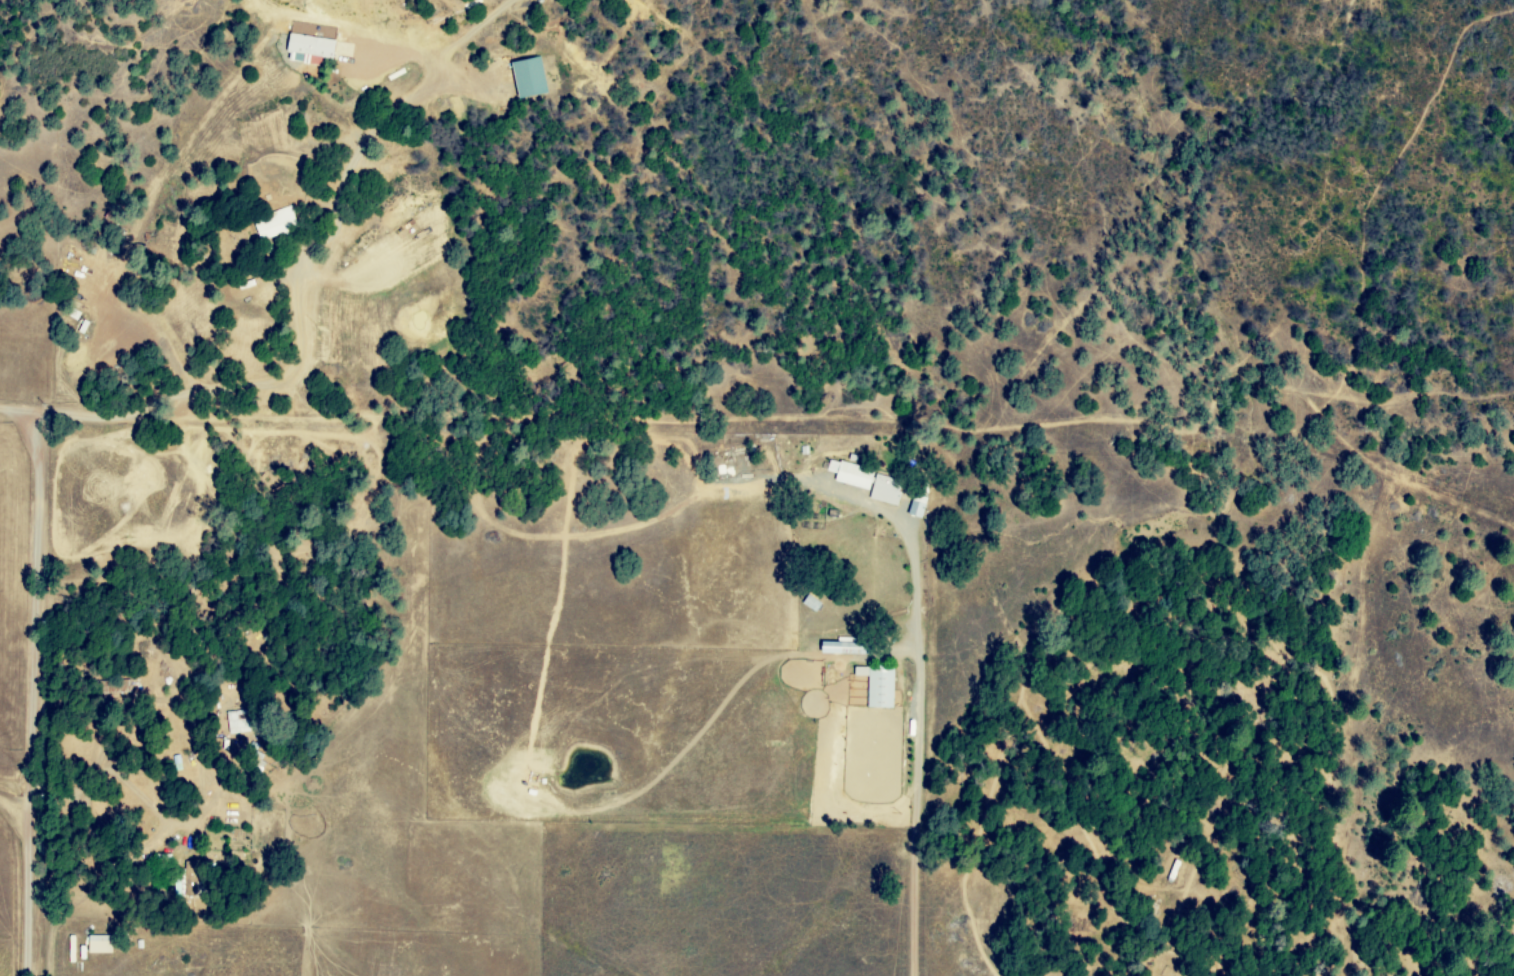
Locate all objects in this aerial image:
building: (316, 50)
building: (529, 78)
building: (274, 223)
road: (293, 242)
road: (914, 341)
building: (866, 482)
building: (917, 508)
road: (571, 546)
building: (878, 686)
road: (37, 697)
building: (100, 944)

